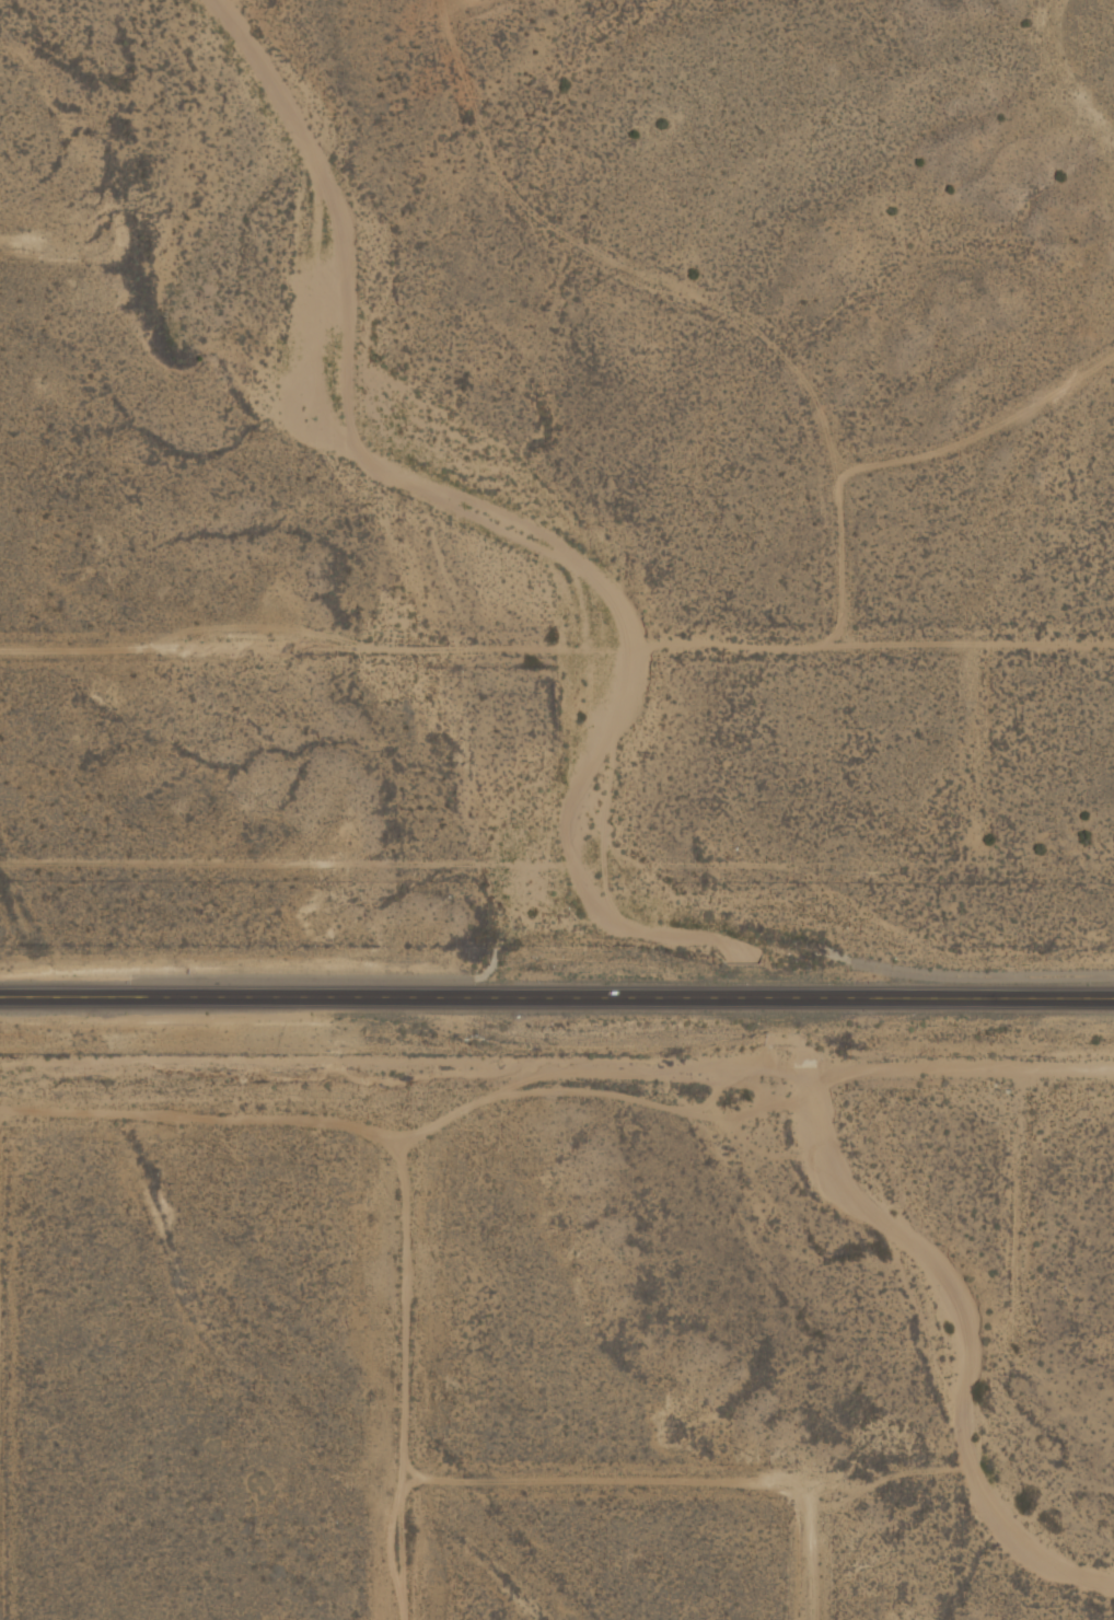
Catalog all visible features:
road: (452, 2)
road: (2, 247)
road: (688, 299)
road: (980, 431)
road: (810, 646)
road: (253, 648)
road: (557, 984)
road: (587, 1093)
road: (364, 1127)
road: (2, 1366)
road: (616, 1477)
road: (810, 1560)

